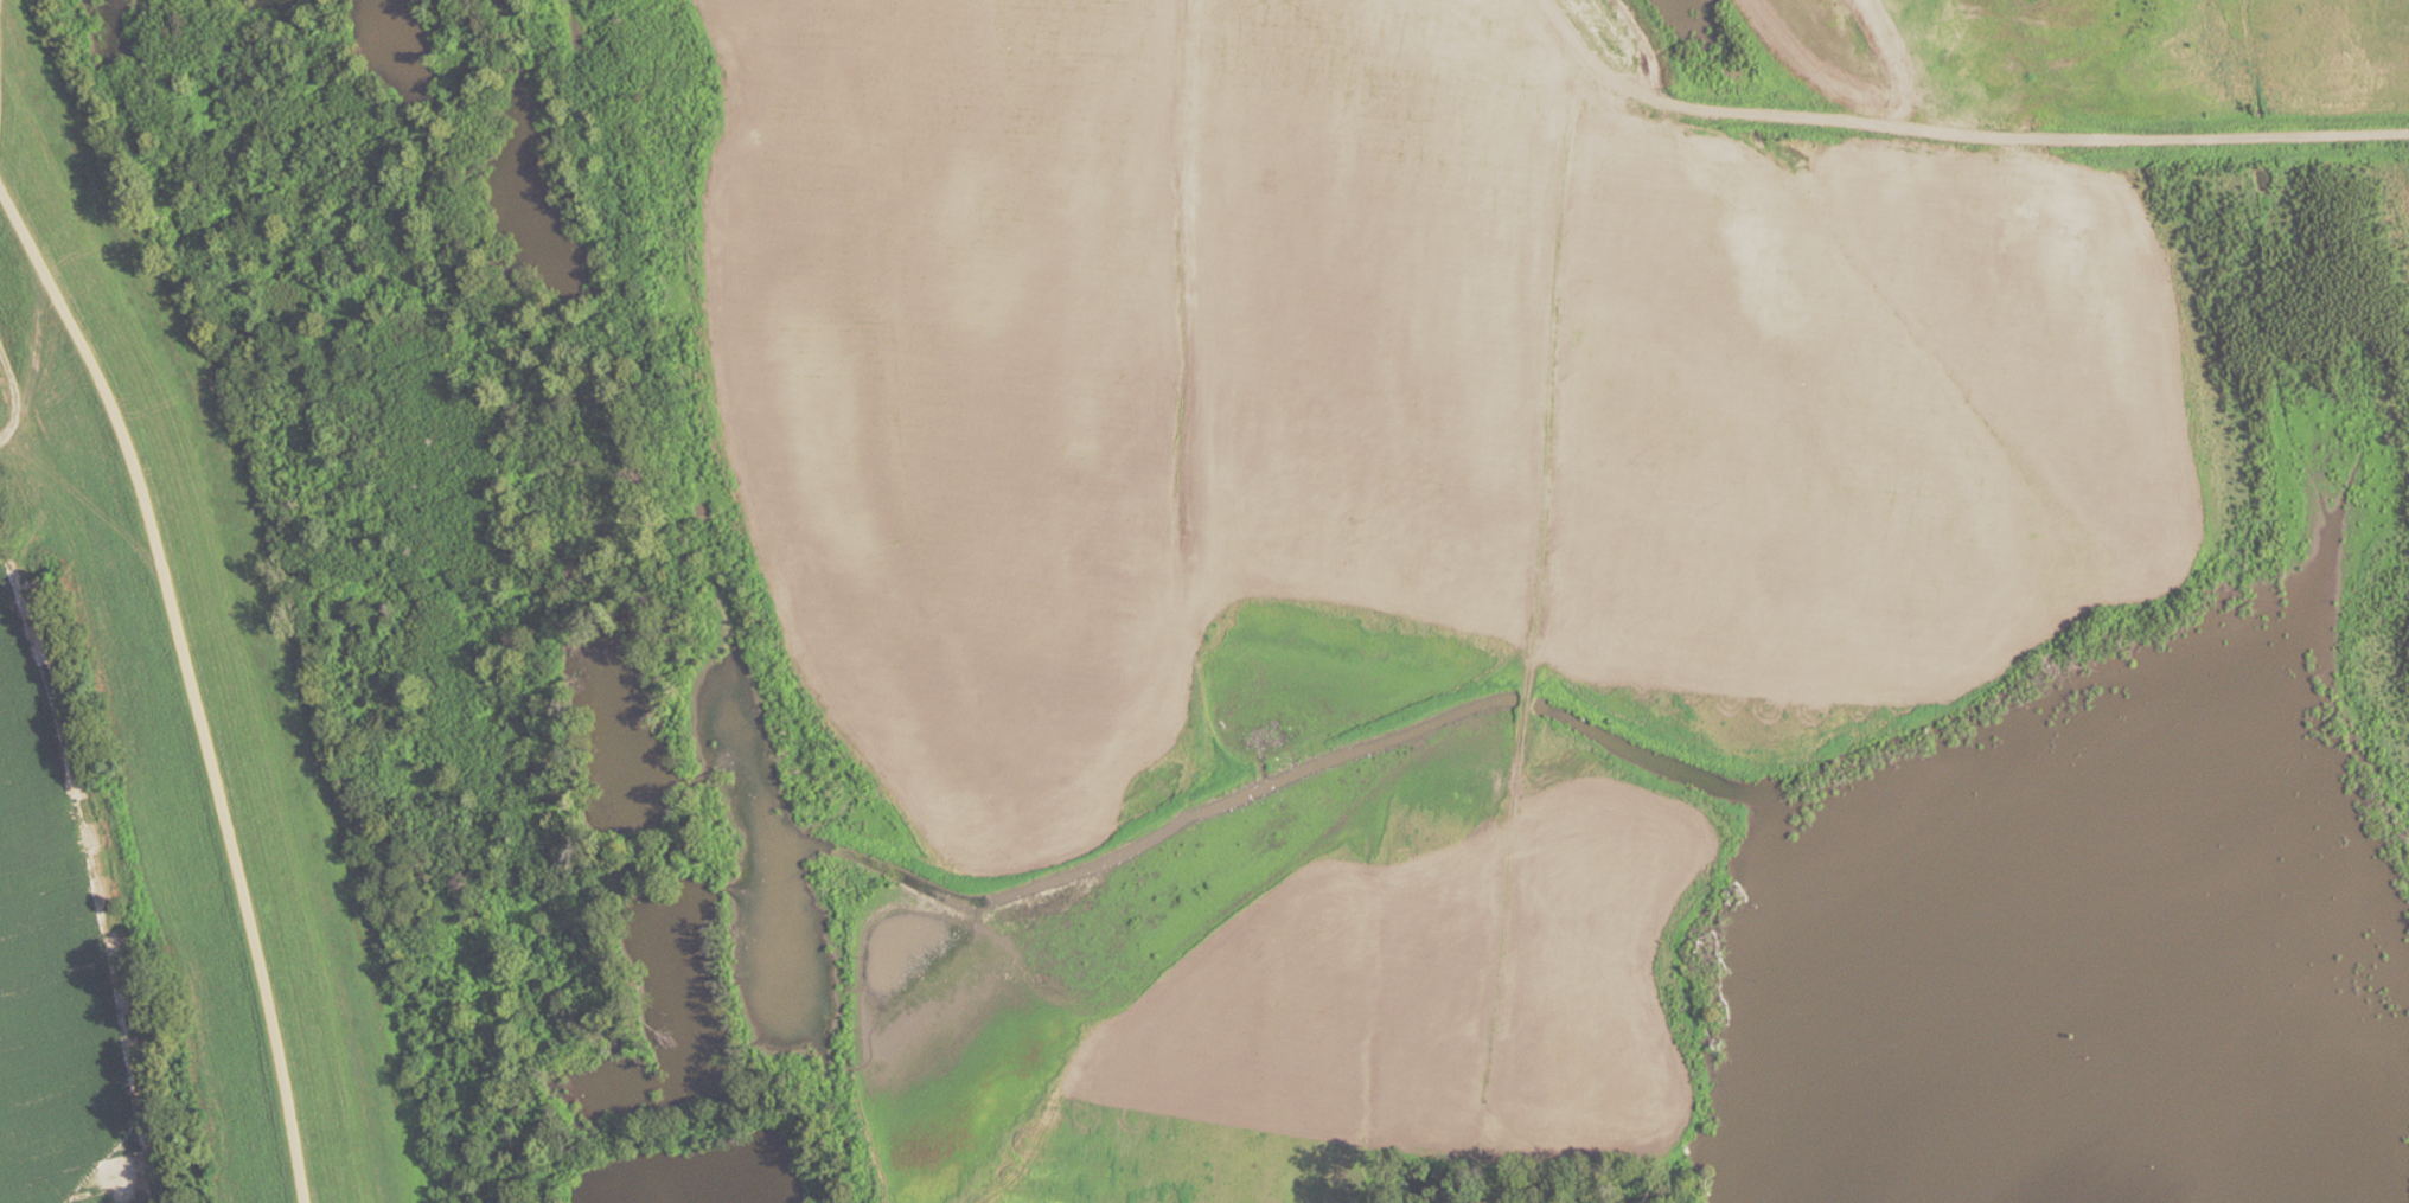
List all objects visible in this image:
road: (15, 407)
road: (190, 685)

